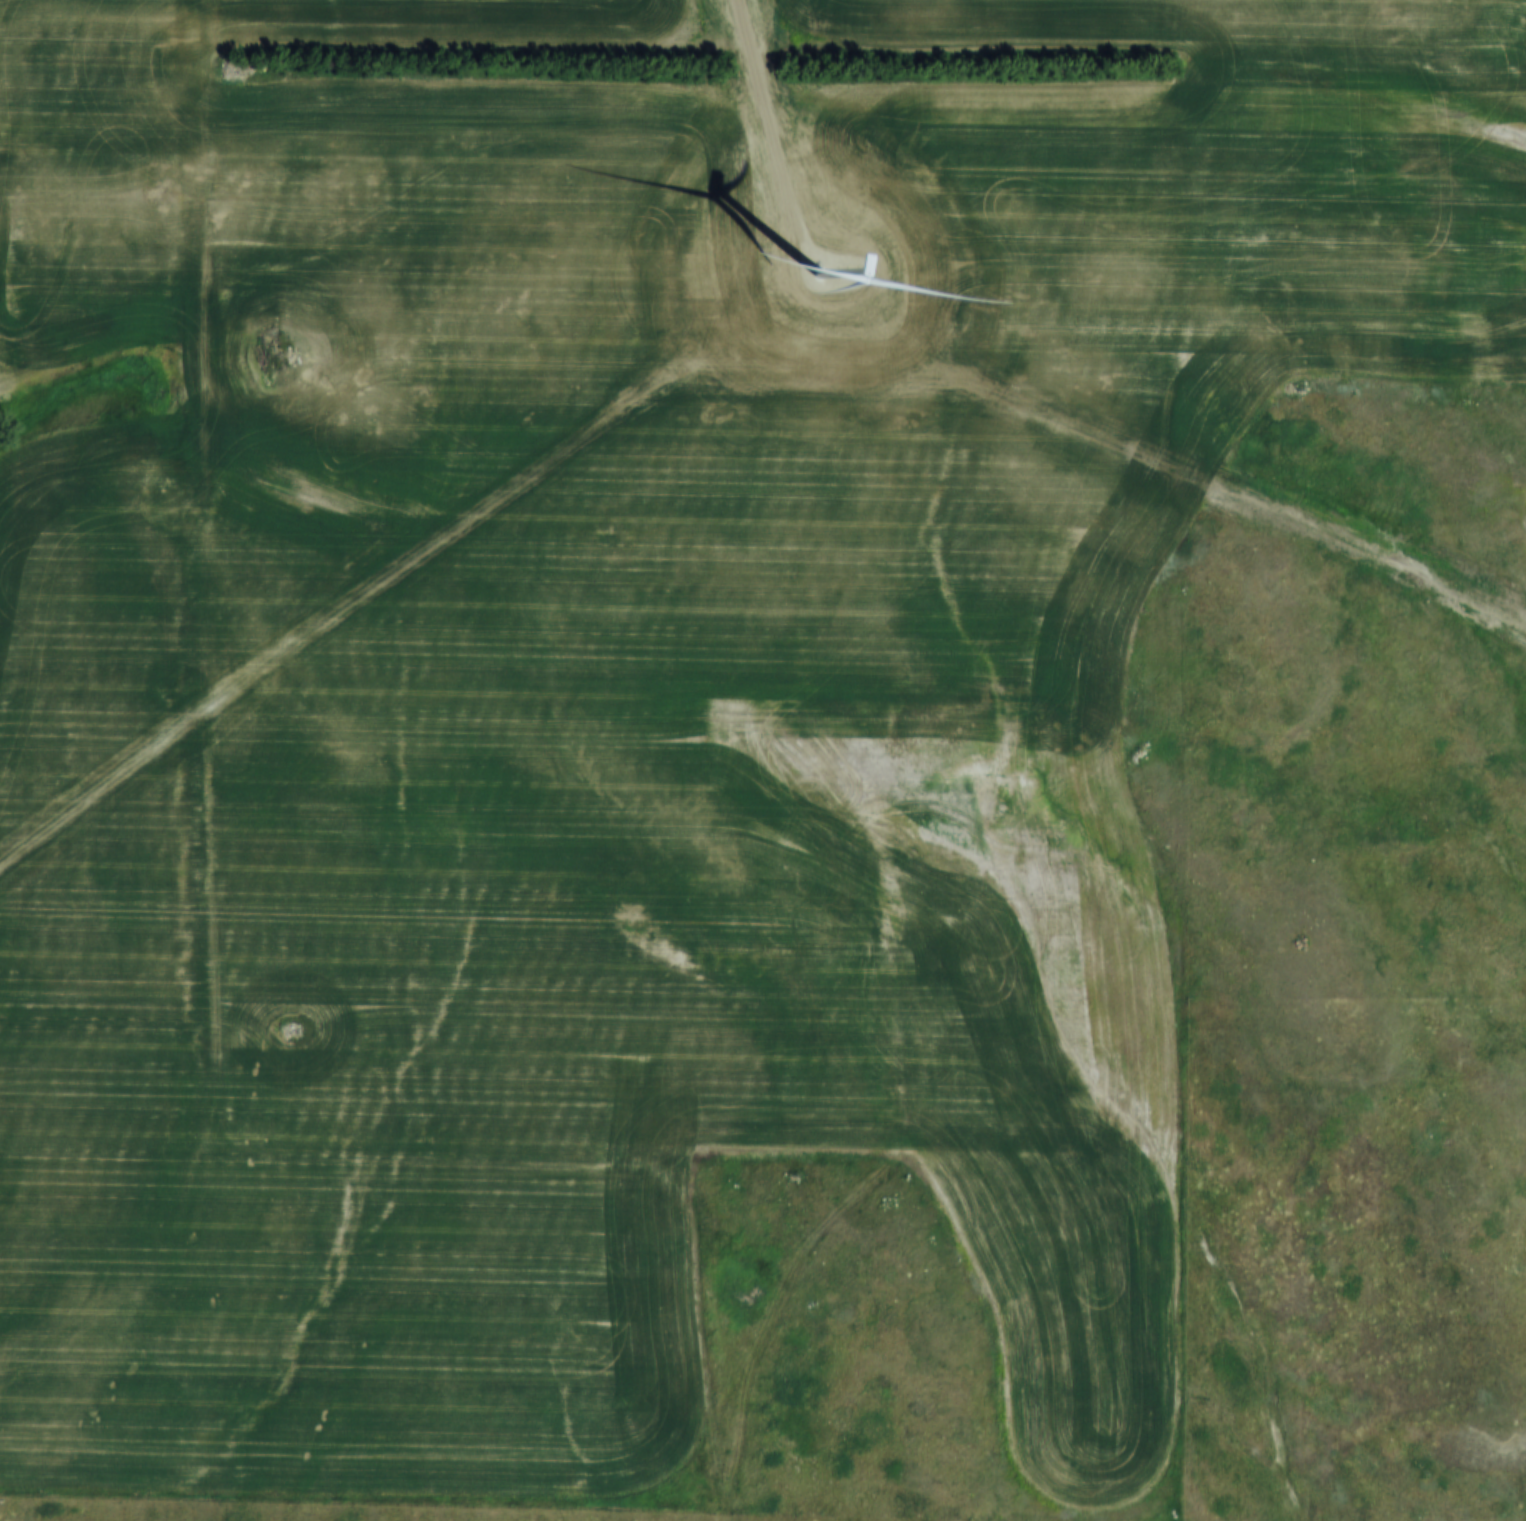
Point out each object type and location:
road: (796, 163)
wind turbine: (812, 270)

